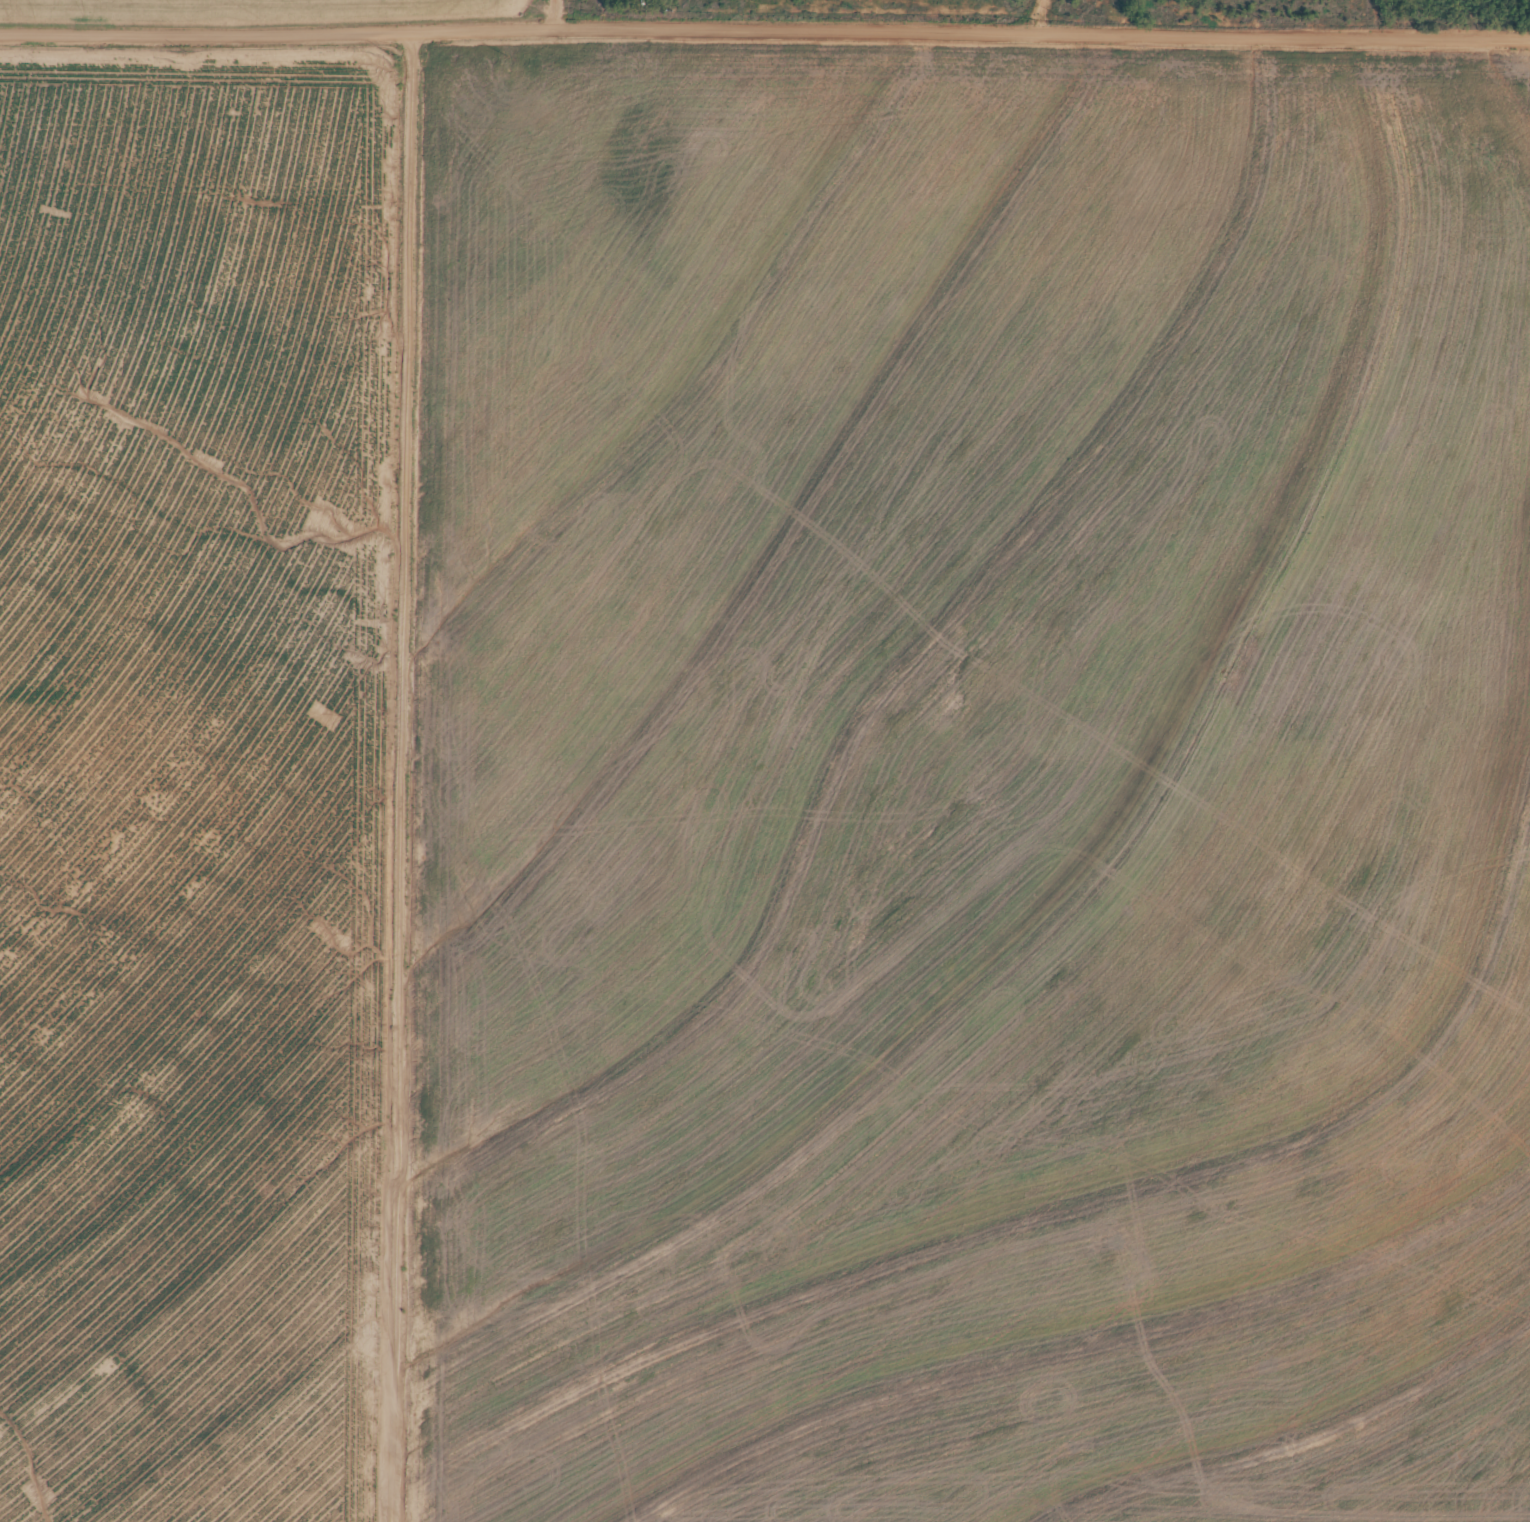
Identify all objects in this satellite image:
road: (529, 25)
road: (764, 52)
road: (369, 791)

